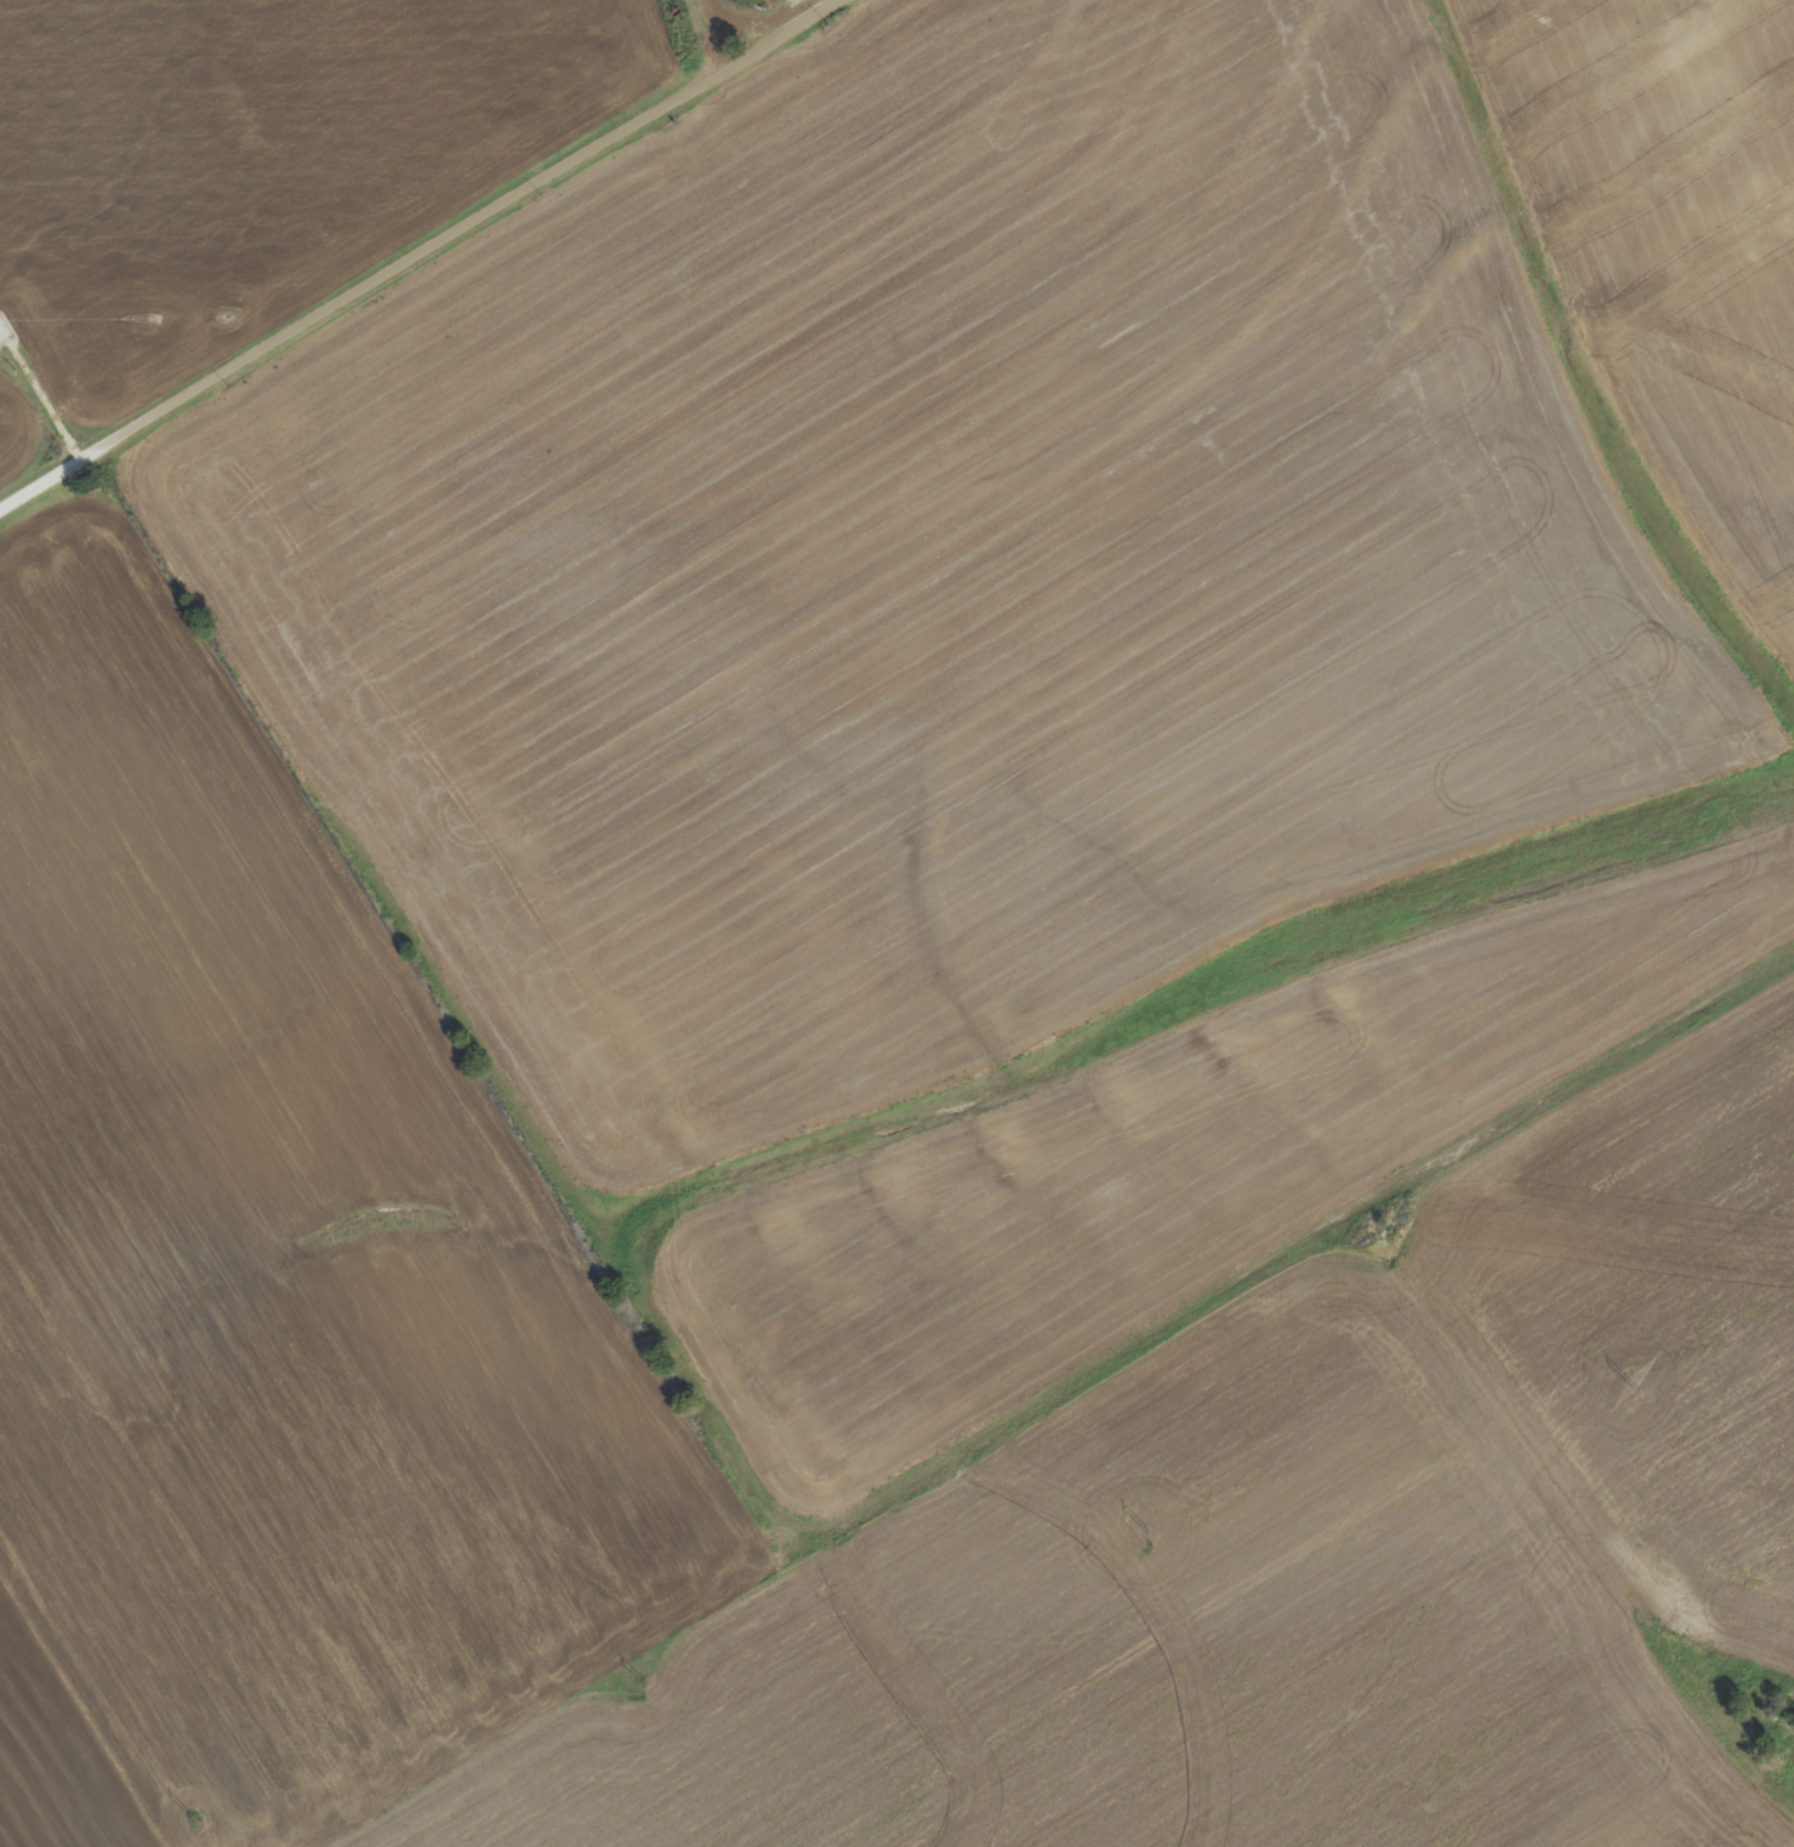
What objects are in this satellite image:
road: (654, 114)
road: (232, 366)
power tower: (1633, 1378)
power tower: (1149, 1529)
power tower: (649, 1680)
power tower: (195, 1815)

